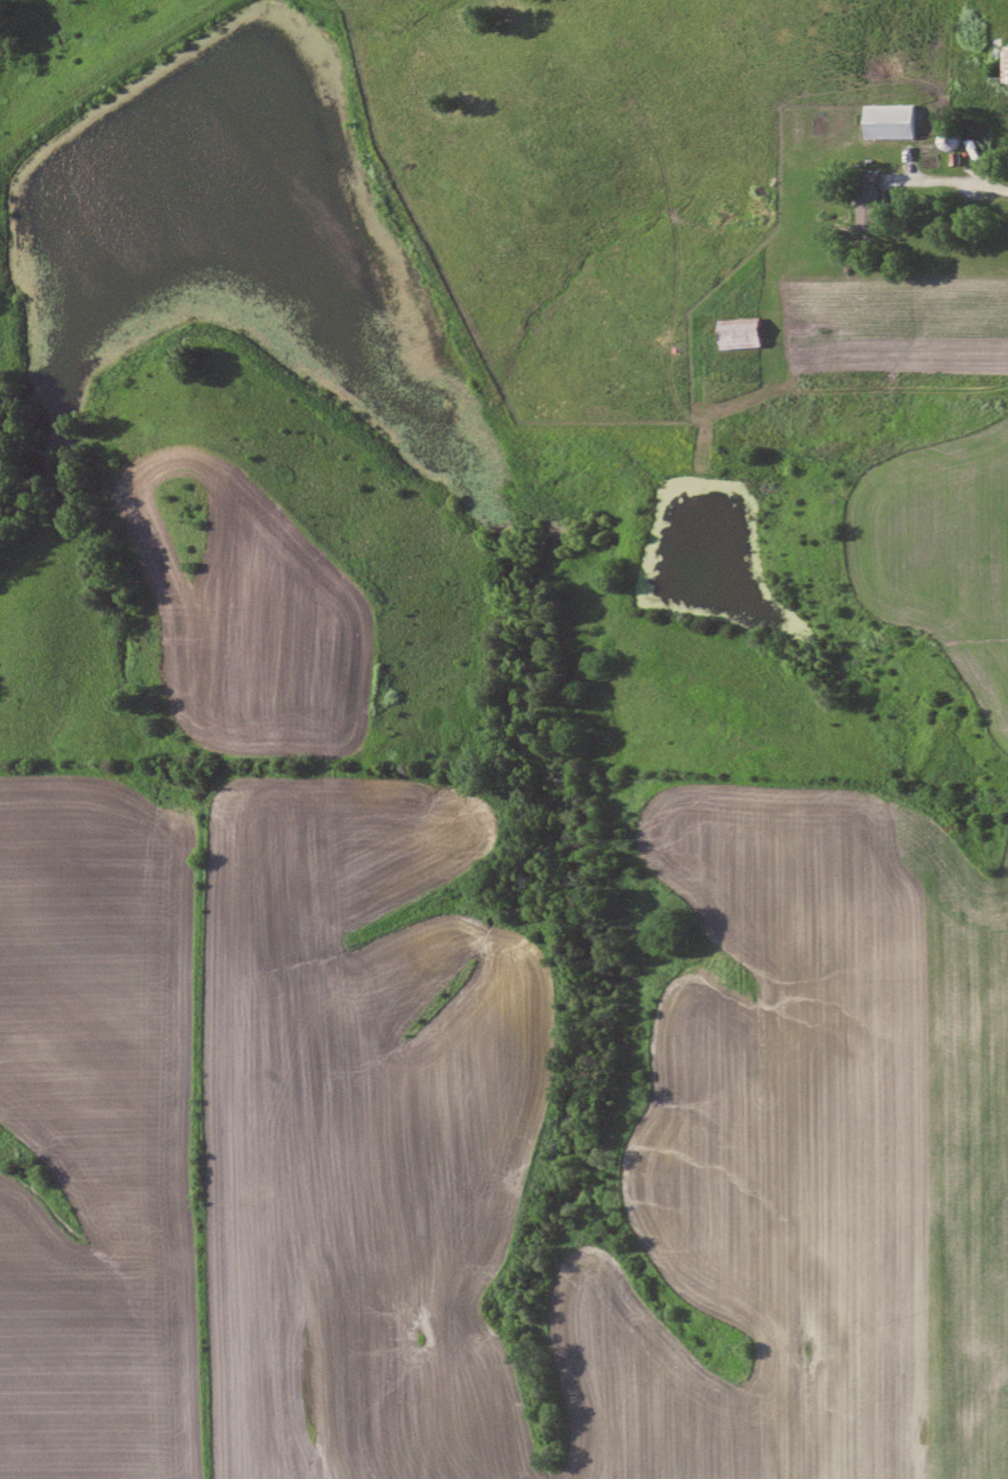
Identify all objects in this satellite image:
dam: (137, 86)
building: (893, 122)
road: (950, 178)

